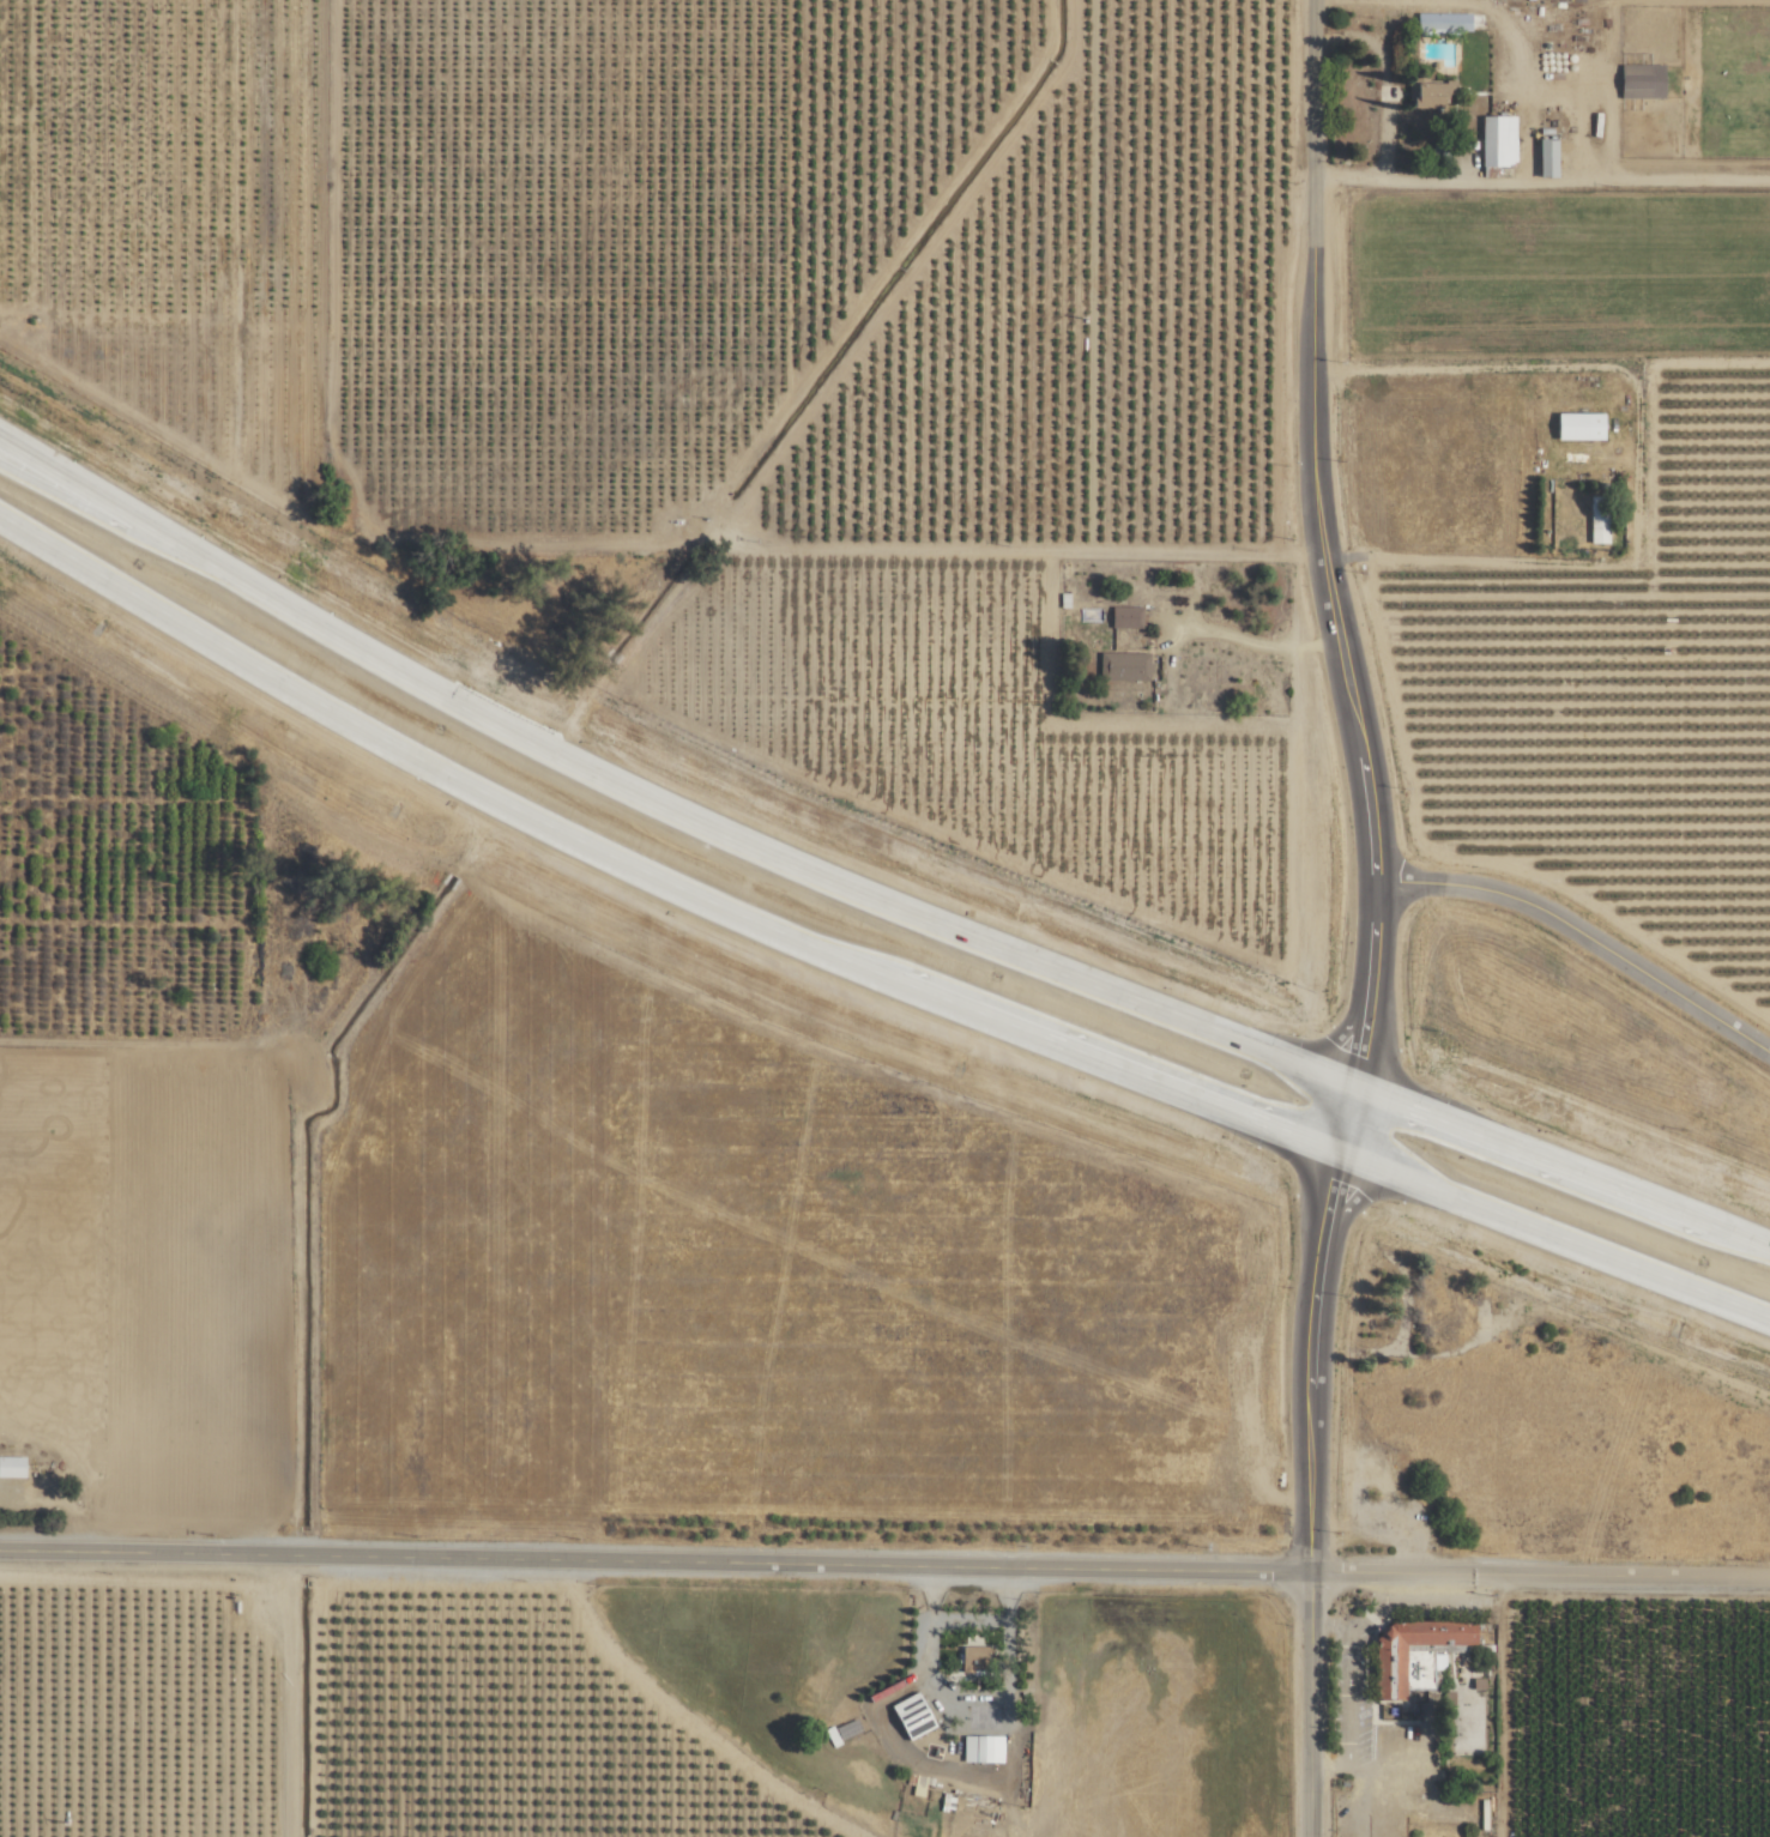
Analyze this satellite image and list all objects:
building: (1444, 23)
building: (1643, 81)
building: (1432, 93)
building: (1499, 140)
building: (1549, 157)
crop: (64, 170)
road: (1517, 175)
road: (1642, 181)
crop: (235, 209)
crop: (858, 258)
crop: (1564, 294)
building: (226, 298)
road: (1474, 369)
building: (1581, 427)
building: (1599, 520)
road: (906, 552)
road: (1221, 556)
road: (1487, 563)
building: (1126, 617)
road: (1227, 636)
building: (1125, 667)
crop: (1625, 707)
road: (1367, 788)
road: (859, 896)
road: (1584, 937)
road: (862, 971)
crop: (101, 1268)
crop: (815, 1268)
building: (12, 1468)
road: (654, 1560)
road: (1539, 1575)
road: (1379, 1608)
road: (966, 1620)
road: (1329, 1630)
building: (1418, 1655)
building: (974, 1660)
road: (1351, 1698)
road: (1312, 1705)
building: (914, 1715)
building: (844, 1732)
building: (983, 1748)
road: (1333, 1767)

